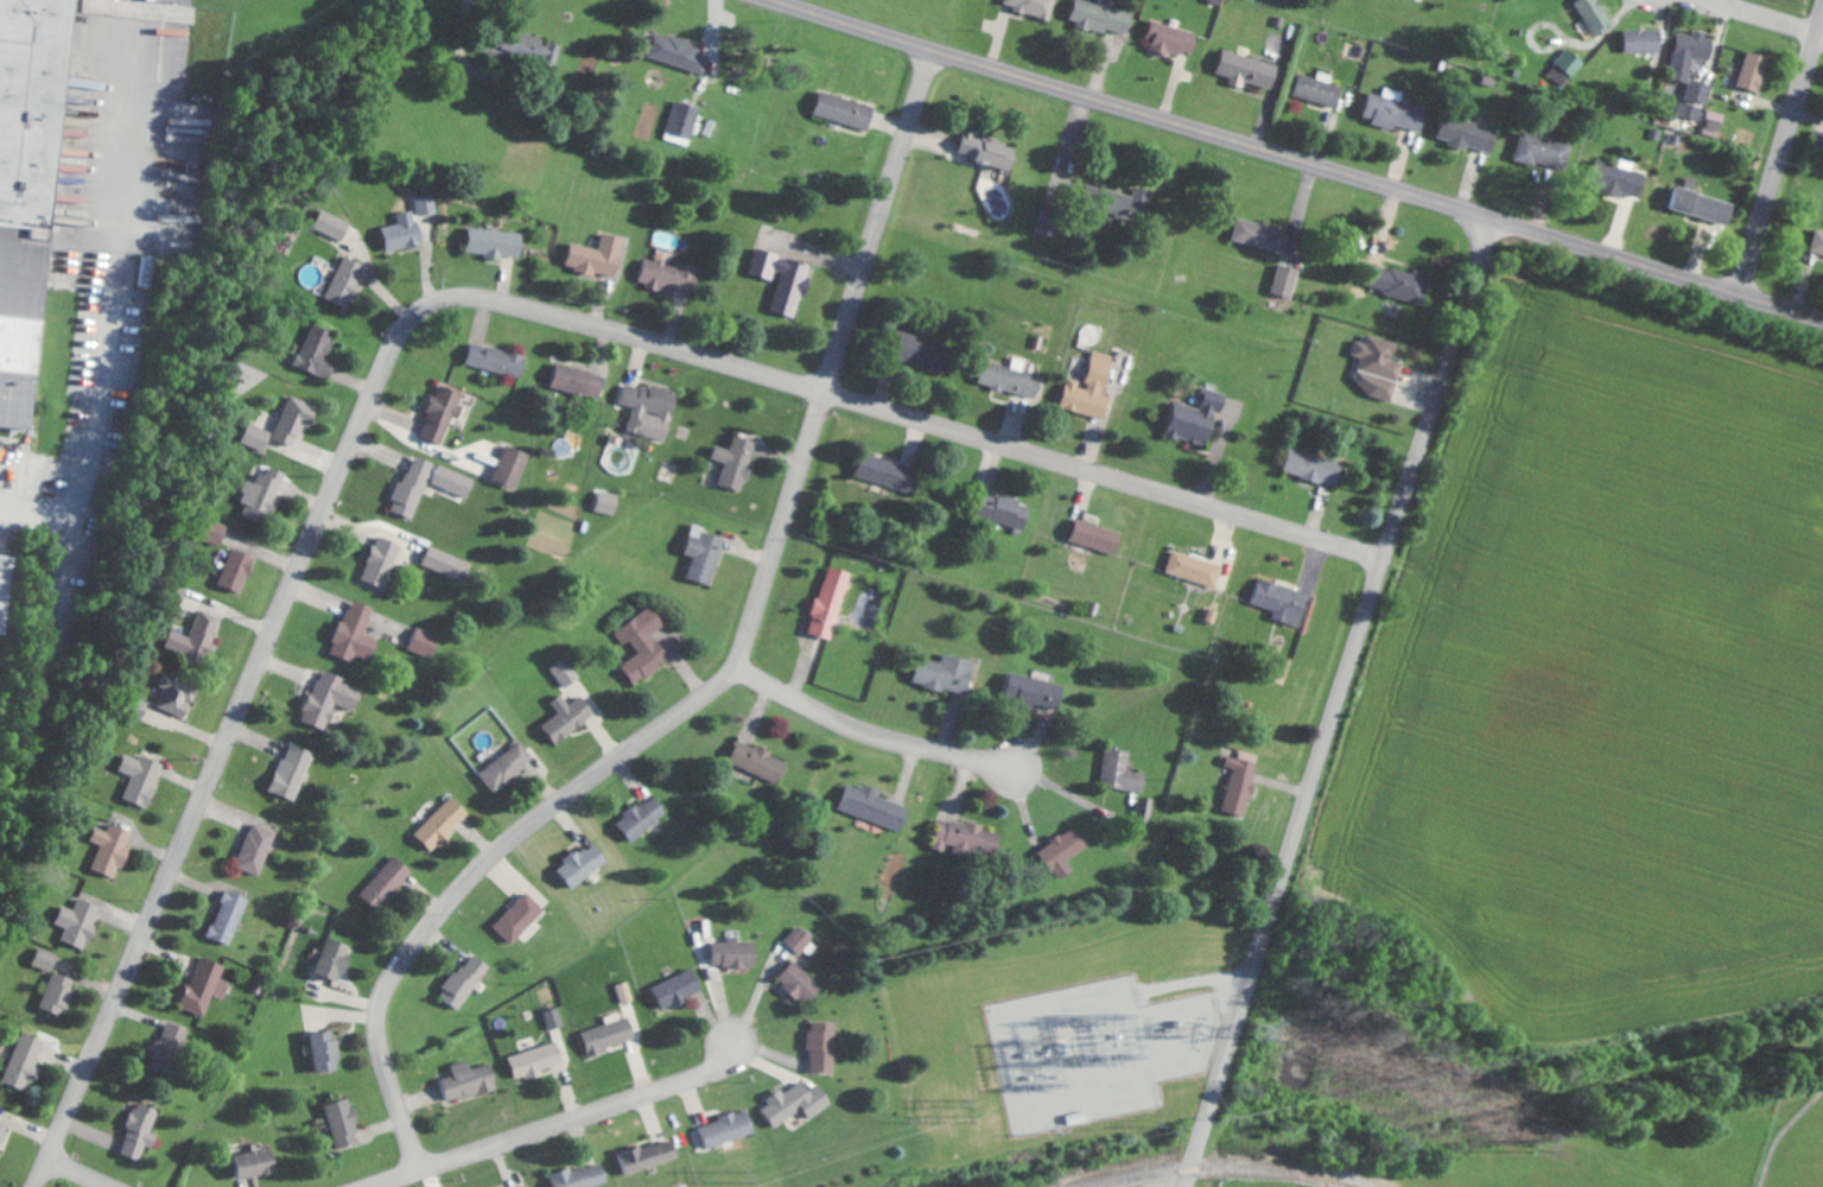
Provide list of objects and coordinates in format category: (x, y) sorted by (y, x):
building: (1036, 6)
building: (1597, 14)
building: (1105, 15)
road: (1764, 18)
building: (1174, 39)
building: (1646, 40)
building: (680, 53)
building: (1695, 63)
road: (466, 65)
building: (1568, 68)
building: (1252, 70)
building: (1757, 71)
building: (1322, 89)
building: (849, 110)
building: (1397, 110)
building: (1691, 110)
building: (685, 123)
building: (1715, 123)
building: (1471, 134)
building: (1818, 139)
building: (992, 151)
building: (1544, 151)
road: (1291, 163)
road: (1779, 167)
building: (1621, 180)
building: (30, 190)
building: (1104, 195)
building: (1706, 203)
building: (428, 204)
building: (1054, 224)
building: (335, 226)
building: (405, 236)
building: (1264, 236)
building: (497, 243)
building: (1819, 243)
building: (601, 256)
building: (148, 267)
building: (672, 277)
building: (787, 279)
building: (349, 281)
building: (1288, 281)
building: (1406, 284)
road: (115, 290)
road: (440, 303)
building: (922, 350)
building: (319, 353)
building: (498, 360)
building: (1379, 367)
building: (1014, 380)
building: (579, 381)
building: (1092, 388)
building: (653, 410)
building: (443, 414)
building: (1198, 417)
building: (297, 421)
building: (260, 438)
building: (739, 463)
building: (514, 466)
building: (1315, 468)
building: (887, 471)
building: (456, 481)
building: (415, 485)
building: (265, 493)
building: (610, 501)
building: (1008, 510)
building: (215, 529)
building: (1099, 537)
building: (707, 553)
building: (383, 560)
building: (449, 564)
building: (240, 569)
building: (1195, 569)
building: (6, 589)
building: (832, 601)
building: (1284, 602)
building: (357, 631)
building: (199, 635)
building: (426, 641)
building: (646, 645)
road: (723, 669)
building: (566, 672)
building: (948, 672)
building: (1035, 690)
building: (179, 694)
building: (334, 698)
road: (1334, 703)
building: (138, 706)
building: (570, 716)
road: (868, 730)
building: (762, 761)
building: (509, 766)
building: (294, 770)
building: (1123, 770)
building: (144, 777)
building: (1243, 781)
road: (1072, 795)
building: (876, 805)
building: (1144, 807)
building: (644, 817)
building: (445, 823)
building: (966, 837)
building: (258, 848)
building: (113, 849)
building: (1065, 851)
building: (586, 863)
building: (389, 882)
building: (230, 916)
building: (522, 916)
building: (81, 922)
building: (802, 939)
building: (738, 953)
building: (337, 958)
building: (47, 959)
building: (468, 979)
building: (802, 982)
building: (208, 984)
building: (679, 989)
building: (627, 991)
building: (59, 992)
building: (557, 1017)
building: (611, 1035)
building: (824, 1045)
building: (170, 1048)
building: (329, 1049)
power substation: (1094, 1050)
building: (26, 1060)
building: (539, 1060)
building: (471, 1080)
building: (799, 1102)
building: (345, 1122)
road: (551, 1123)
building: (728, 1128)
building: (144, 1130)
building: (4, 1135)
park: (1795, 1135)
building: (649, 1156)
building: (260, 1162)
railway: (1246, 1164)
road: (87, 1170)
building: (584, 1175)
railway: (1114, 1182)
building: (529, 1186)
building: (1348, 1186)

